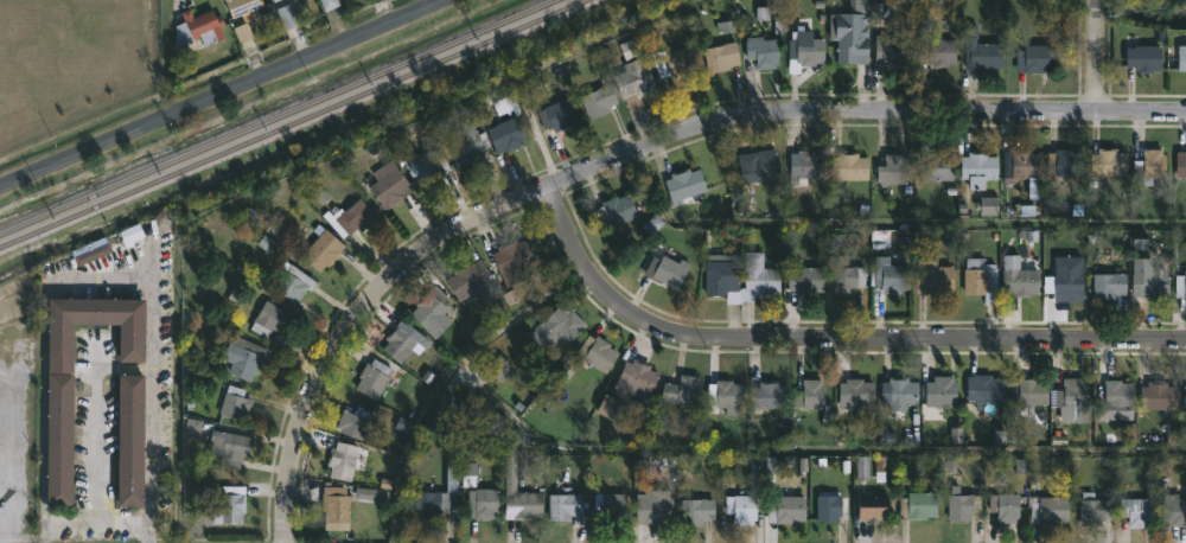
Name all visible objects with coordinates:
building: (273, 0)
building: (278, 1)
building: (327, 4)
building: (240, 6)
building: (288, 18)
building: (203, 26)
building: (852, 33)
building: (631, 50)
building: (805, 50)
building: (895, 50)
building: (760, 52)
building: (938, 52)
building: (980, 52)
road: (1095, 56)
building: (720, 57)
building: (1181, 58)
building: (1035, 59)
building: (1144, 59)
building: (674, 63)
building: (633, 79)
road: (218, 92)
building: (597, 102)
building: (556, 115)
railway: (279, 117)
railway: (292, 123)
building: (506, 134)
building: (466, 142)
road: (627, 153)
building: (1108, 164)
building: (932, 165)
building: (425, 166)
building: (763, 166)
building: (805, 166)
building: (1063, 166)
building: (1148, 166)
building: (1180, 166)
building: (848, 167)
building: (892, 170)
building: (978, 170)
building: (1024, 171)
building: (387, 184)
building: (683, 185)
building: (616, 211)
building: (353, 218)
building: (321, 249)
building: (511, 260)
building: (667, 270)
building: (846, 275)
building: (888, 275)
building: (721, 277)
building: (757, 277)
building: (932, 277)
building: (1018, 279)
building: (981, 280)
building: (1066, 280)
building: (466, 281)
building: (1148, 281)
building: (291, 282)
building: (803, 282)
building: (1108, 286)
building: (1180, 286)
building: (431, 312)
building: (267, 320)
building: (94, 327)
building: (556, 327)
road: (828, 340)
building: (403, 341)
building: (598, 354)
building: (242, 358)
road: (148, 359)
building: (371, 379)
road: (452, 379)
building: (635, 381)
building: (984, 390)
building: (681, 391)
building: (940, 392)
building: (1029, 392)
building: (856, 394)
building: (898, 395)
building: (1115, 395)
building: (770, 396)
building: (726, 397)
building: (811, 397)
building: (1158, 397)
building: (1071, 401)
building: (1185, 403)
building: (234, 404)
road: (42, 408)
building: (353, 422)
building: (58, 441)
building: (128, 441)
building: (228, 448)
road: (6, 449)
road: (808, 449)
building: (342, 461)
building: (517, 493)
building: (436, 497)
building: (483, 504)
building: (873, 504)
building: (229, 505)
building: (334, 505)
building: (958, 505)
building: (917, 506)
building: (563, 507)
building: (608, 507)
building: (1003, 507)
building: (828, 509)
building: (740, 510)
building: (652, 511)
building: (695, 511)
building: (784, 511)
building: (1047, 511)
building: (1093, 511)
building: (1173, 511)
building: (1136, 513)
road: (4, 522)
road: (94, 525)

